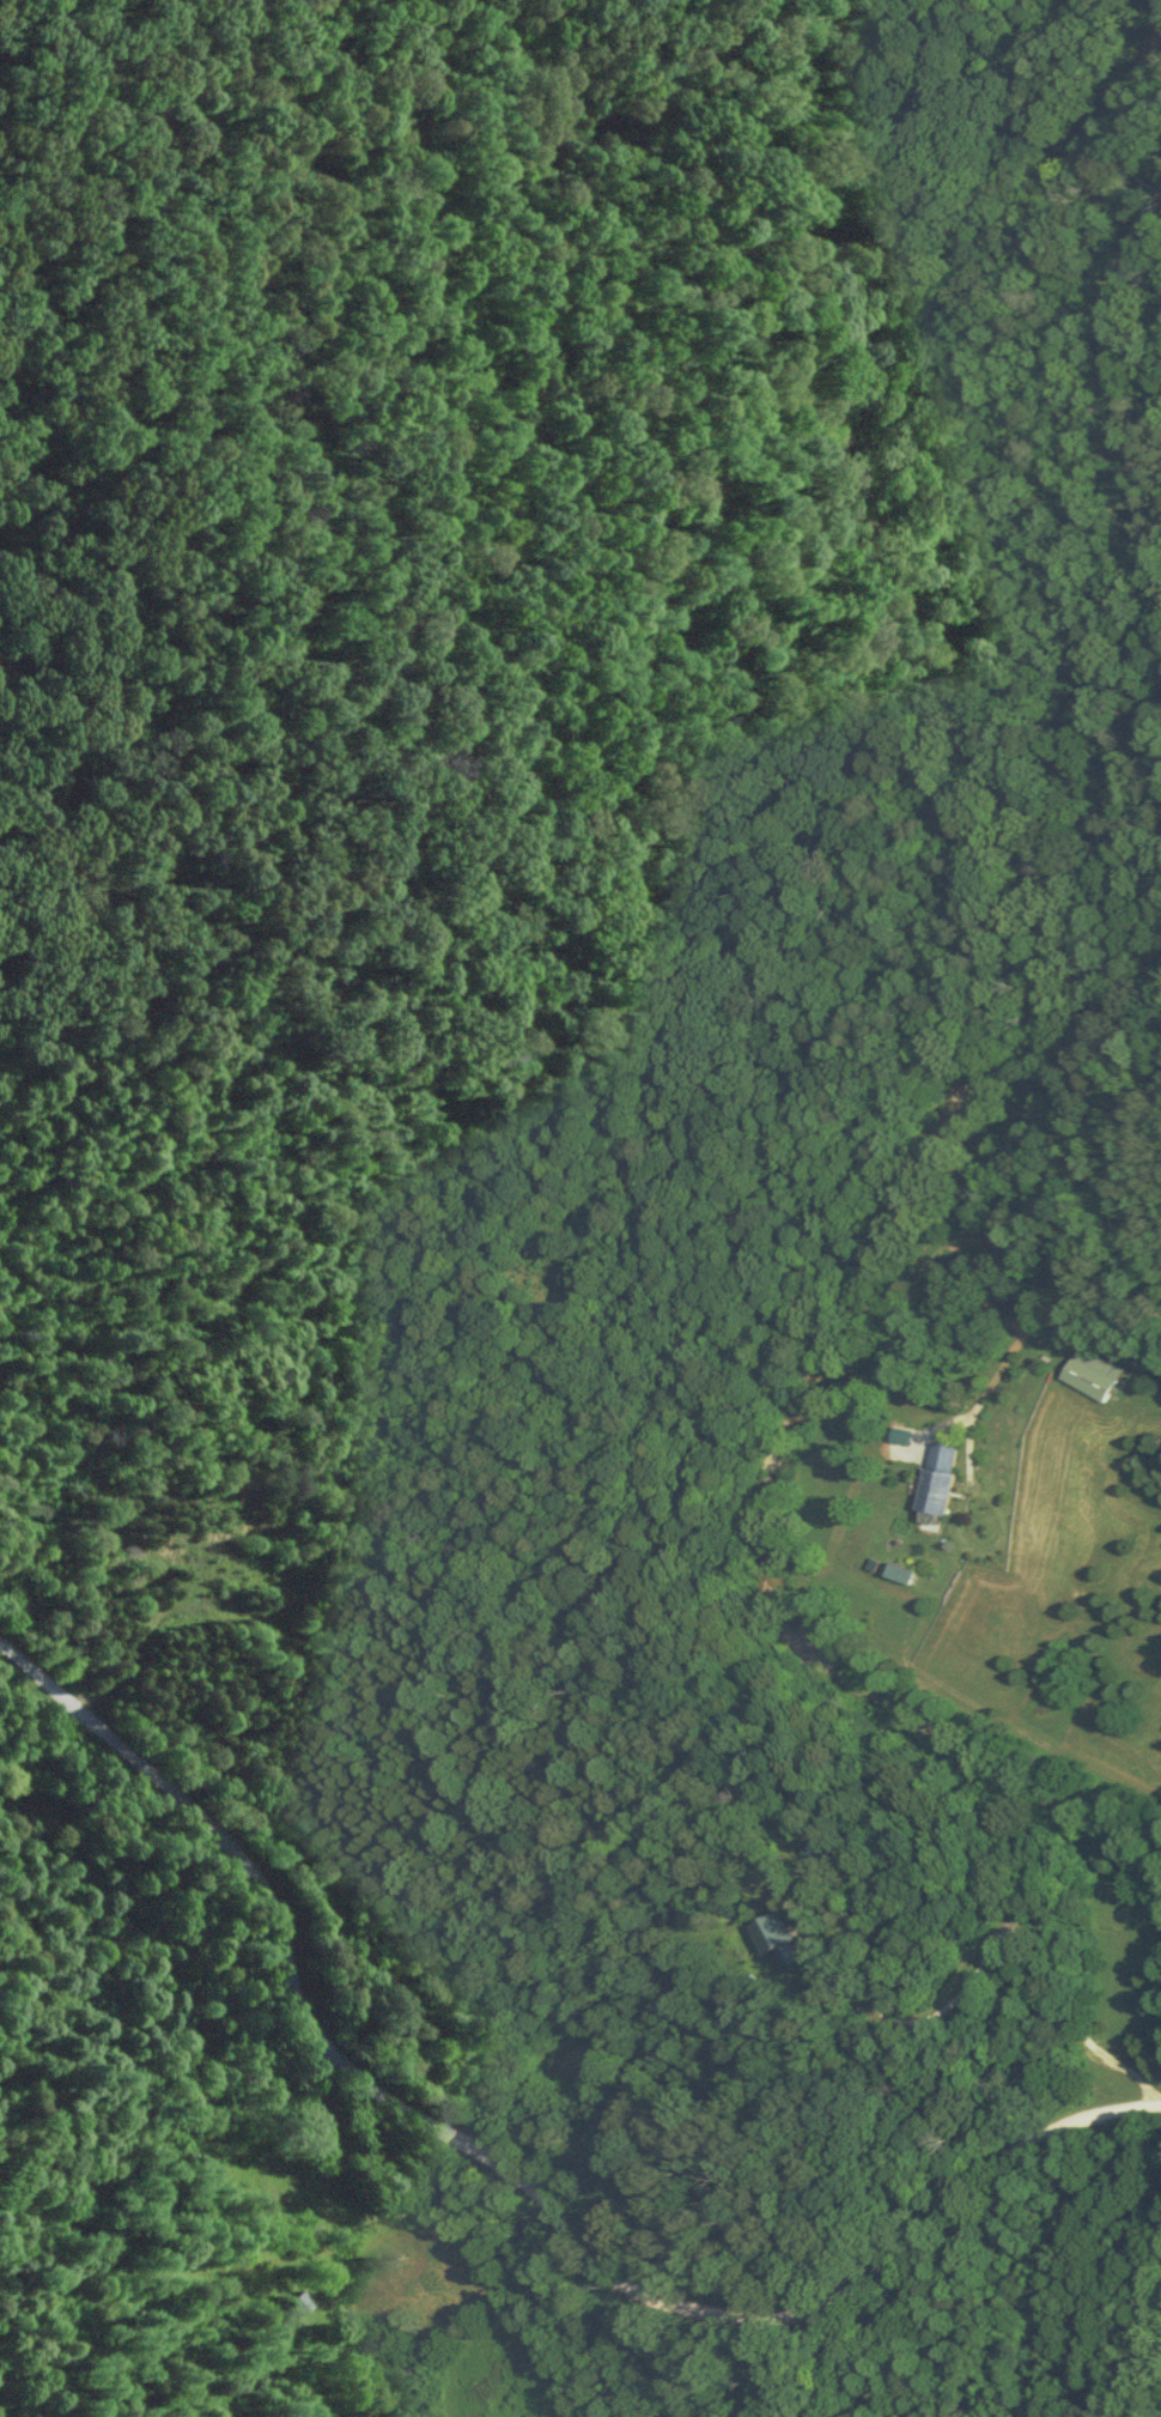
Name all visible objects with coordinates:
road: (1122, 392)
road: (1125, 1171)
road: (1017, 1340)
building: (1087, 1374)
building: (932, 1478)
building: (894, 1573)
building: (773, 1931)
road: (523, 2177)

